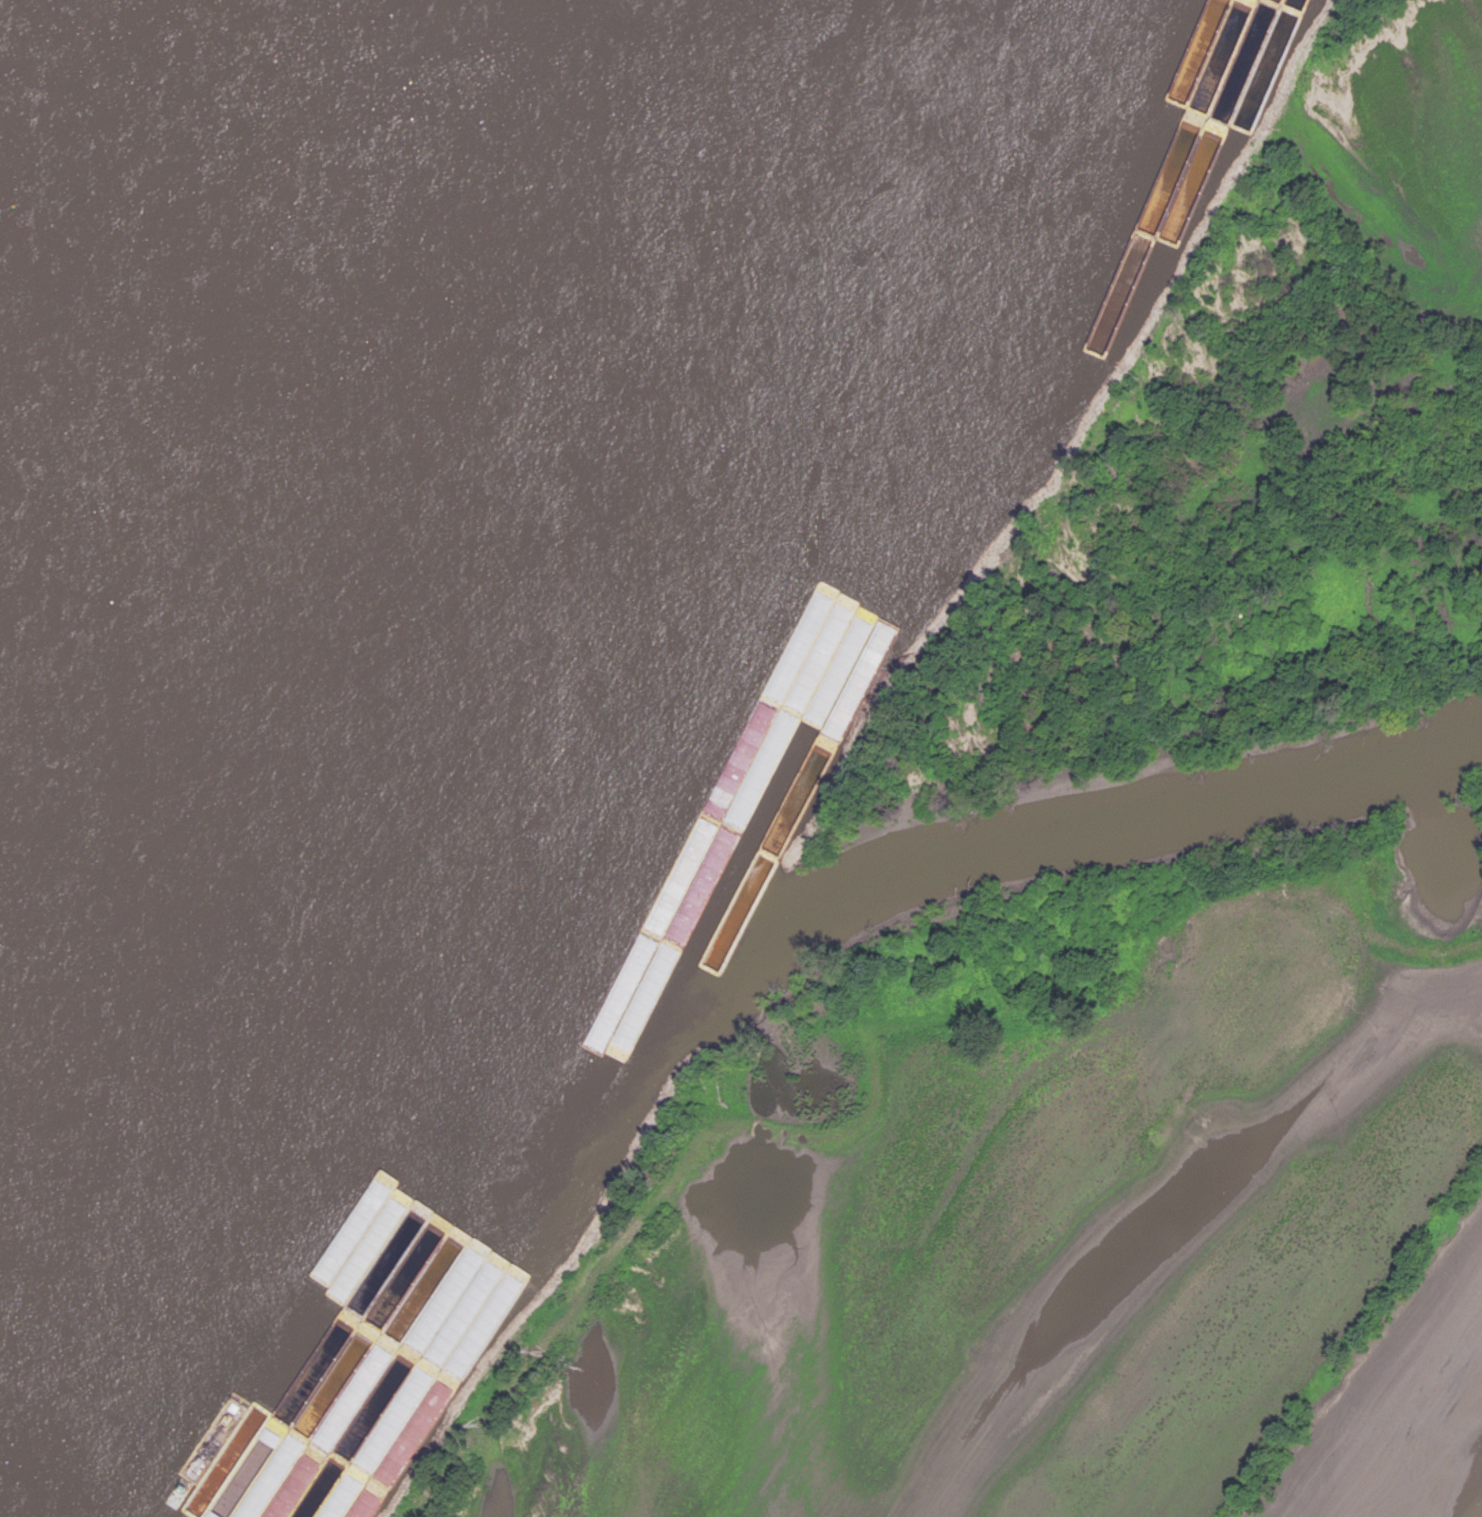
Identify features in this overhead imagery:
crop: (1408, 141)
crop: (1065, 1266)
building: (386, 1403)
building: (366, 1461)
building: (337, 1467)
building: (344, 1496)

